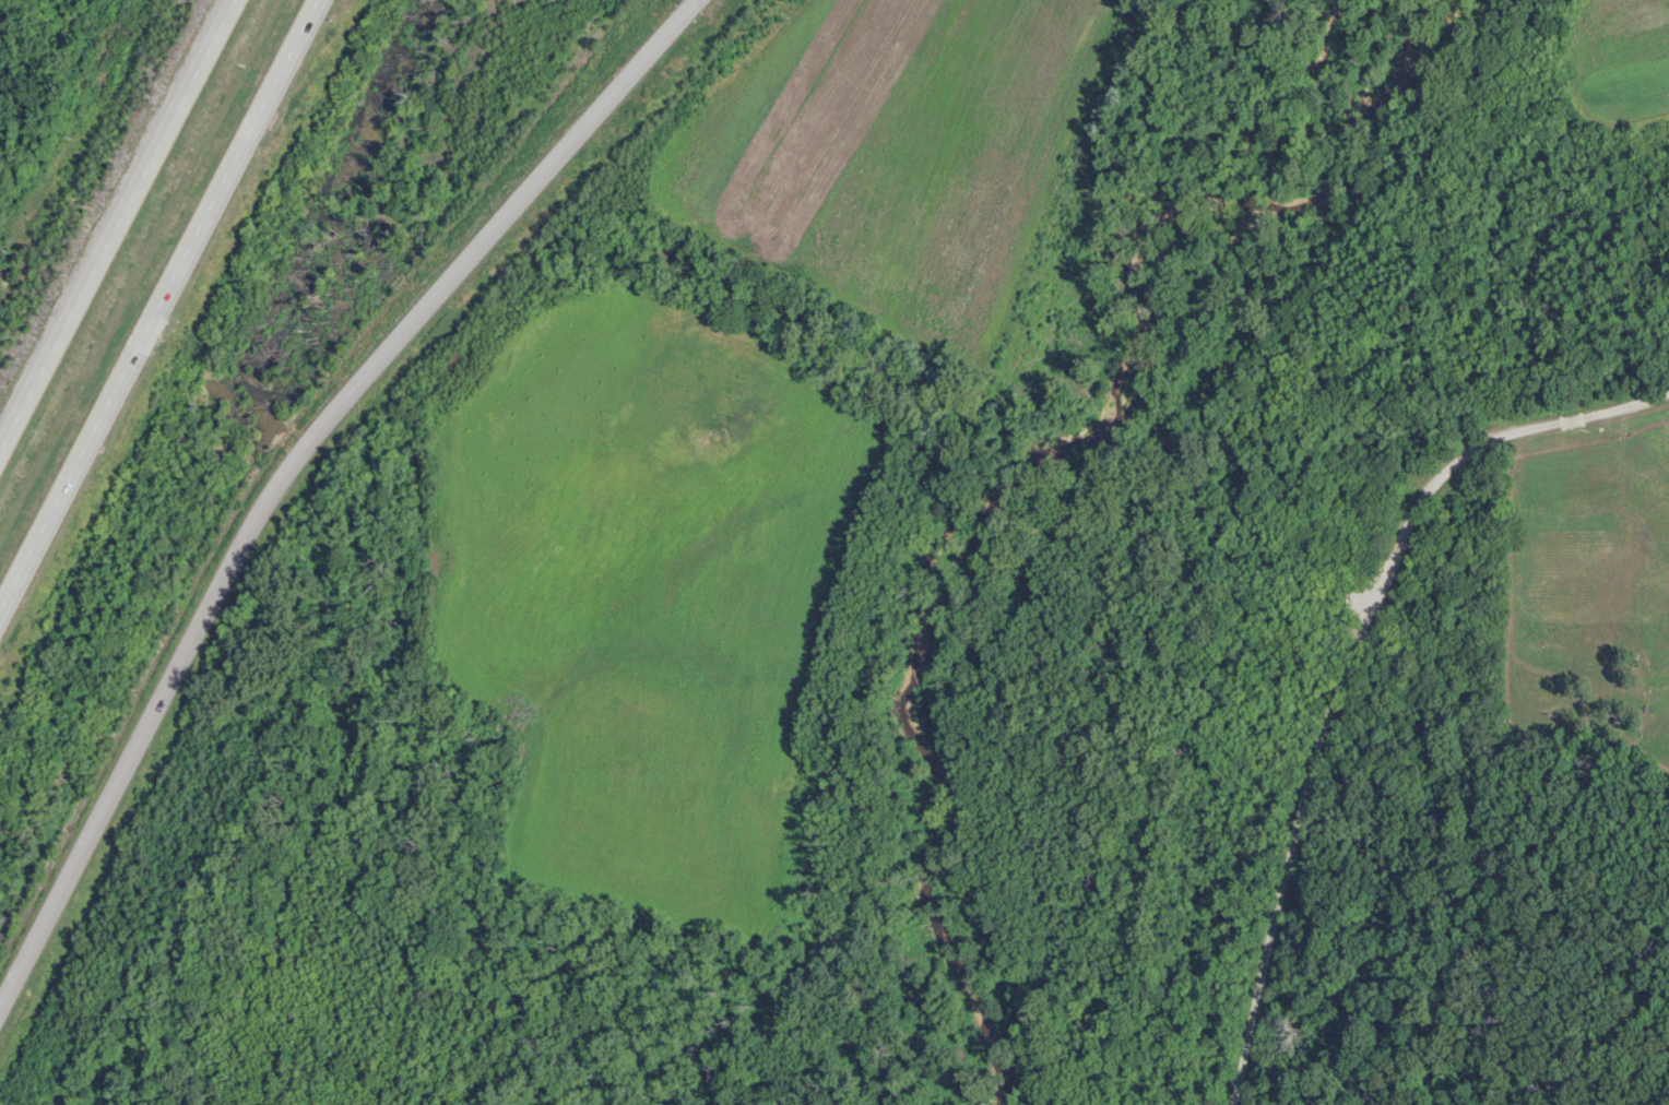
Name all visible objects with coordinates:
road: (120, 230)
road: (164, 309)
road: (175, 336)
road: (1476, 443)
road: (288, 462)

